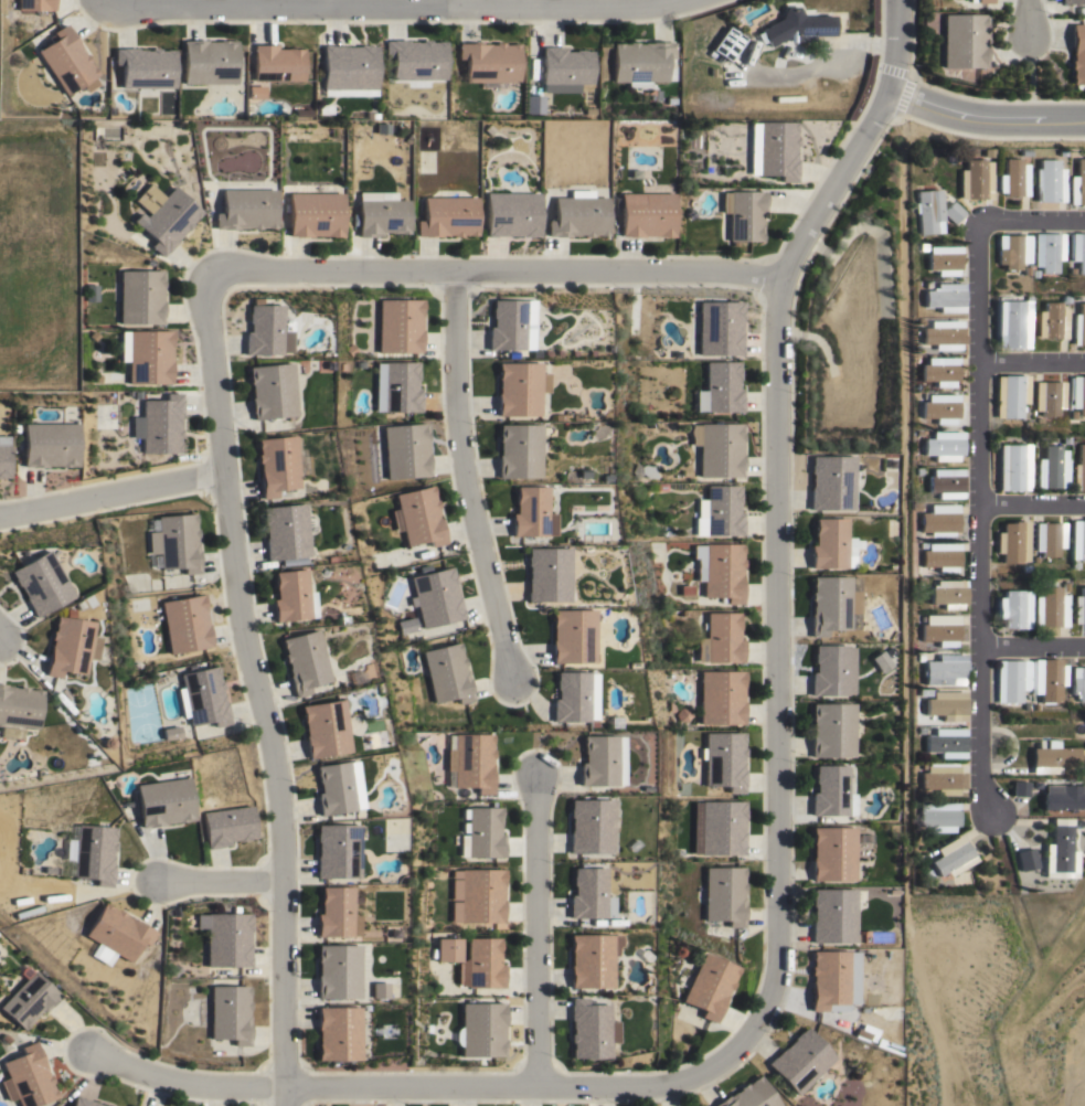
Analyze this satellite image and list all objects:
building: (983, 1)
building: (1072, 1)
road: (96, 3)
building: (34, 4)
road: (389, 6)
road: (1025, 13)
building: (794, 25)
building: (962, 41)
building: (725, 42)
road: (893, 47)
building: (1077, 52)
building: (414, 57)
building: (66, 60)
building: (640, 60)
building: (208, 61)
building: (488, 61)
building: (276, 62)
building: (347, 65)
building: (145, 66)
building: (564, 67)
building: (254, 93)
building: (532, 104)
road: (987, 117)
building: (772, 149)
building: (987, 151)
building: (1061, 151)
building: (1024, 152)
building: (1012, 177)
building: (1049, 178)
building: (974, 180)
building: (1077, 183)
building: (245, 209)
building: (927, 210)
building: (951, 211)
building: (313, 213)
building: (380, 213)
building: (510, 213)
building: (645, 213)
building: (577, 214)
building: (742, 214)
building: (163, 215)
building: (446, 216)
road: (1031, 223)
building: (922, 246)
building: (1012, 251)
building: (1047, 251)
building: (1078, 251)
building: (943, 259)
building: (1025, 272)
building: (1034, 272)
building: (1071, 272)
road: (486, 275)
building: (926, 283)
building: (139, 297)
building: (945, 297)
building: (1061, 298)
building: (918, 321)
building: (1050, 321)
building: (510, 323)
building: (1011, 323)
building: (1077, 325)
building: (397, 326)
building: (719, 328)
building: (265, 330)
building: (942, 334)
building: (146, 357)
road: (1032, 361)
building: (357, 364)
building: (938, 371)
building: (95, 381)
building: (722, 386)
building: (397, 387)
building: (519, 387)
building: (270, 391)
building: (1077, 394)
building: (1010, 395)
building: (1047, 397)
building: (939, 407)
building: (1073, 415)
building: (158, 424)
building: (1063, 439)
building: (46, 445)
building: (943, 446)
building: (717, 449)
building: (403, 451)
building: (518, 451)
building: (2, 457)
building: (276, 466)
building: (1012, 466)
building: (1050, 467)
building: (1078, 469)
building: (917, 471)
road: (465, 479)
building: (829, 483)
building: (946, 483)
road: (113, 493)
road: (1033, 503)
building: (915, 506)
building: (719, 512)
road: (982, 512)
building: (531, 513)
building: (416, 517)
building: (938, 520)
building: (285, 532)
building: (1049, 539)
building: (1077, 540)
building: (174, 542)
building: (1012, 542)
building: (830, 544)
building: (922, 545)
road: (775, 546)
building: (940, 556)
building: (1074, 565)
building: (1027, 568)
building: (721, 572)
building: (547, 575)
building: (919, 581)
building: (39, 583)
building: (1028, 584)
building: (1063, 587)
building: (948, 594)
building: (292, 597)
building: (435, 597)
building: (832, 605)
building: (1078, 606)
building: (1013, 609)
building: (1049, 609)
building: (923, 618)
building: (184, 625)
building: (406, 625)
building: (940, 631)
building: (572, 636)
building: (720, 640)
road: (1034, 646)
building: (68, 647)
building: (919, 658)
building: (879, 661)
building: (304, 662)
building: (944, 670)
building: (831, 671)
building: (362, 673)
building: (446, 674)
building: (1046, 679)
building: (1010, 681)
building: (1077, 683)
road: (257, 689)
building: (922, 692)
building: (721, 696)
building: (203, 698)
building: (574, 698)
building: (946, 706)
building: (1025, 708)
building: (1035, 708)
building: (18, 711)
building: (325, 730)
building: (921, 730)
building: (830, 731)
building: (171, 733)
building: (946, 744)
building: (1051, 757)
building: (600, 762)
building: (723, 762)
building: (470, 763)
building: (923, 767)
building: (939, 780)
building: (354, 784)
building: (334, 789)
building: (1018, 789)
building: (830, 793)
building: (1063, 798)
building: (162, 804)
building: (938, 817)
building: (1078, 823)
building: (226, 827)
building: (589, 828)
building: (717, 829)
building: (892, 830)
building: (480, 836)
building: (337, 852)
building: (1059, 852)
building: (93, 855)
building: (831, 855)
building: (953, 858)
building: (1025, 861)
building: (928, 874)
road: (223, 881)
building: (891, 892)
building: (587, 895)
building: (475, 896)
building: (724, 896)
building: (174, 912)
building: (26, 913)
building: (337, 915)
building: (831, 917)
building: (391, 930)
building: (115, 935)
road: (533, 935)
building: (225, 940)
building: (446, 950)
building: (591, 963)
building: (480, 966)
building: (338, 974)
building: (828, 981)
building: (709, 988)
building: (379, 990)
building: (26, 1000)
building: (228, 1015)
building: (481, 1031)
building: (587, 1031)
building: (338, 1035)
building: (798, 1064)
building: (25, 1076)
road: (427, 1087)
building: (748, 1096)
building: (85, 1102)
building: (139, 1105)

